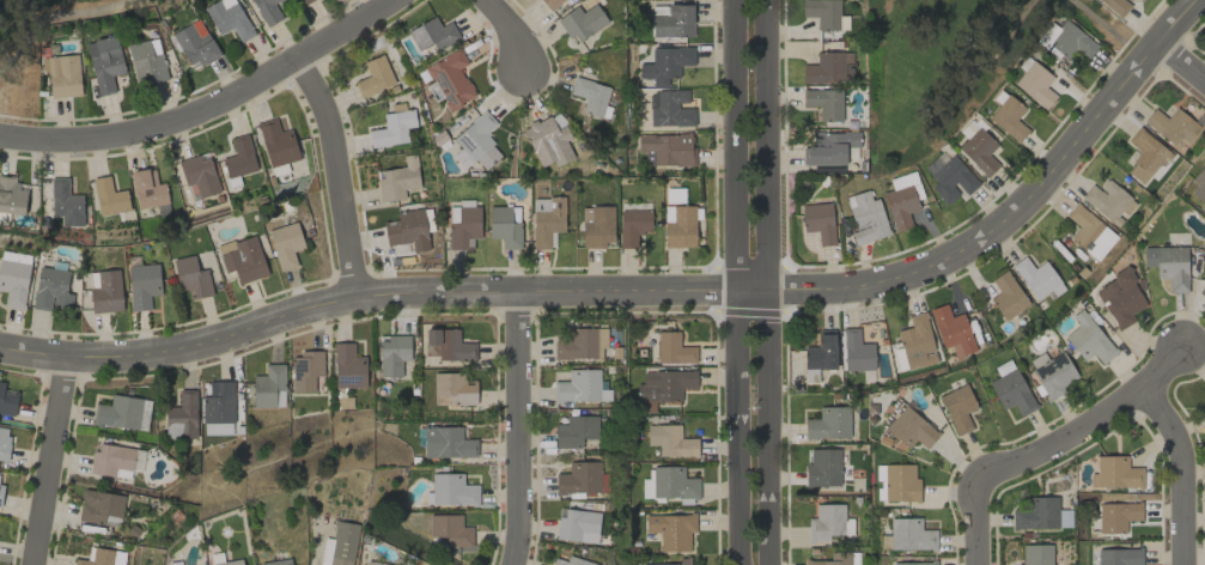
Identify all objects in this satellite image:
building: (304, 1)
building: (552, 4)
building: (1115, 6)
building: (267, 11)
building: (822, 13)
road: (56, 17)
building: (227, 18)
building: (671, 20)
building: (582, 22)
road: (511, 34)
building: (432, 35)
building: (1066, 41)
park: (37, 43)
building: (194, 44)
building: (146, 61)
road: (1181, 61)
building: (104, 62)
park: (953, 63)
building: (664, 65)
building: (828, 68)
building: (63, 75)
building: (375, 77)
building: (1035, 84)
building: (590, 96)
building: (823, 103)
road: (206, 109)
building: (669, 109)
building: (1009, 117)
building: (1171, 126)
building: (392, 127)
building: (548, 141)
building: (276, 142)
building: (476, 142)
building: (830, 147)
building: (667, 150)
building: (979, 151)
building: (239, 157)
building: (1144, 157)
road: (335, 172)
building: (199, 174)
building: (949, 177)
building: (397, 180)
building: (902, 180)
building: (1199, 184)
building: (147, 188)
building: (11, 195)
building: (109, 196)
building: (1108, 201)
building: (66, 202)
building: (900, 207)
building: (865, 218)
building: (546, 220)
building: (818, 221)
building: (505, 225)
building: (463, 226)
building: (597, 226)
building: (633, 226)
building: (678, 226)
building: (408, 230)
building: (1089, 232)
building: (285, 244)
building: (242, 259)
building: (1168, 266)
building: (191, 277)
building: (13, 278)
building: (1037, 279)
road: (734, 281)
road: (767, 281)
building: (142, 285)
building: (51, 290)
road: (651, 290)
building: (104, 291)
building: (1204, 292)
building: (1006, 296)
building: (1120, 298)
building: (953, 330)
building: (1088, 339)
building: (917, 342)
building: (580, 344)
building: (448, 345)
building: (673, 348)
building: (856, 351)
building: (821, 352)
building: (392, 354)
building: (348, 366)
building: (305, 370)
building: (1052, 373)
building: (269, 387)
building: (580, 387)
building: (662, 388)
building: (1010, 388)
building: (452, 389)
building: (7, 400)
building: (218, 408)
building: (957, 408)
building: (122, 413)
building: (182, 415)
building: (828, 424)
road: (1089, 425)
building: (908, 427)
road: (517, 429)
building: (574, 431)
building: (670, 441)
building: (4, 442)
building: (446, 443)
building: (112, 460)
road: (50, 461)
building: (822, 468)
building: (1115, 473)
road: (1182, 473)
building: (578, 479)
building: (900, 482)
building: (668, 484)
building: (450, 491)
building: (0, 493)
building: (98, 505)
building: (1035, 515)
building: (1118, 516)
road: (981, 522)
building: (828, 523)
building: (577, 525)
building: (450, 529)
building: (671, 530)
building: (907, 535)
building: (342, 543)
building: (1035, 554)
building: (102, 557)
building: (1119, 557)
building: (832, 559)
building: (683, 560)
building: (278, 561)
building: (571, 561)
building: (229, 563)
building: (376, 563)
building: (914, 563)

